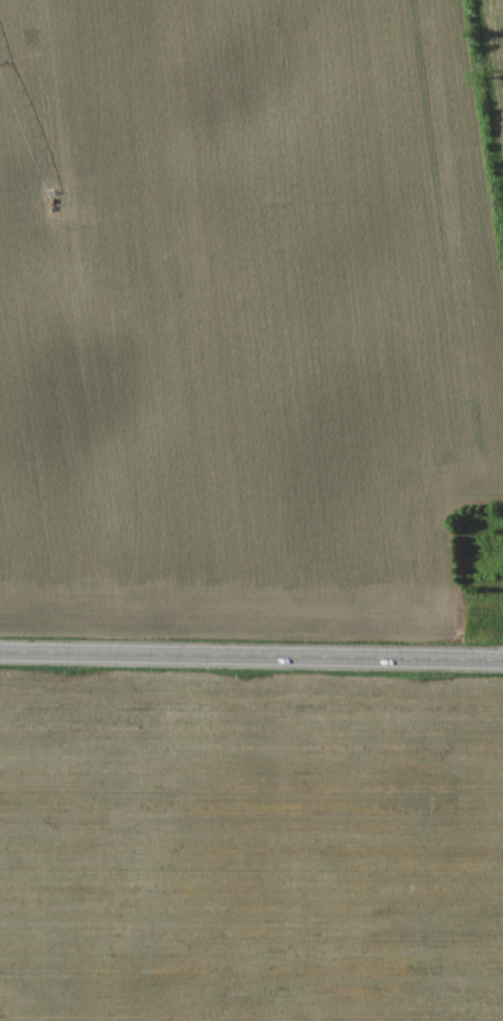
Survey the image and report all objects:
road: (251, 656)

